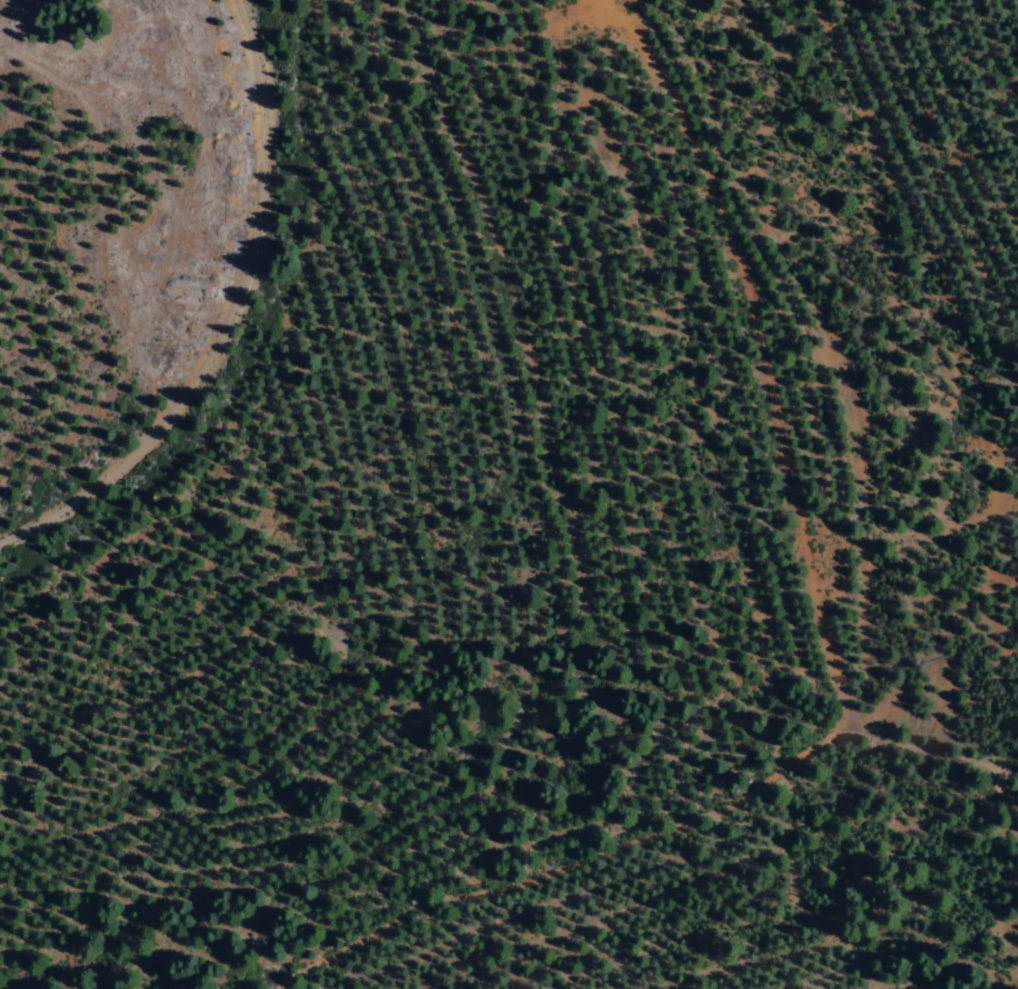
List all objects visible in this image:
railway: (223, 316)
road: (678, 836)

